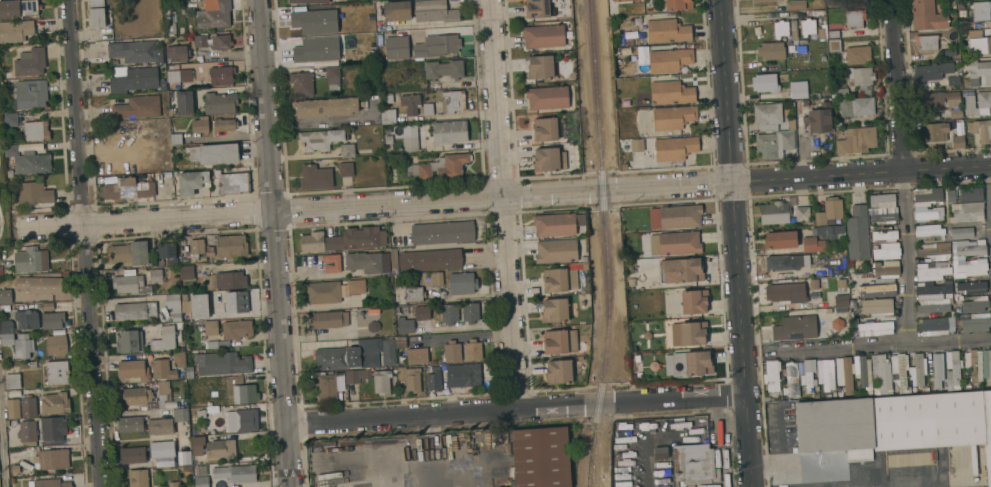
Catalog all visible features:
building: (622, 0)
building: (765, 0)
building: (310, 1)
building: (832, 2)
building: (678, 4)
building: (795, 4)
building: (537, 8)
building: (19, 9)
building: (397, 10)
building: (981, 10)
building: (434, 11)
building: (97, 13)
building: (214, 14)
building: (927, 15)
building: (166, 16)
building: (856, 18)
building: (314, 21)
building: (171, 27)
building: (808, 27)
building: (781, 28)
building: (794, 29)
building: (16, 31)
building: (668, 31)
building: (426, 33)
building: (975, 33)
building: (834, 34)
building: (544, 36)
building: (201, 40)
building: (221, 41)
building: (629, 42)
building: (927, 42)
building: (447, 44)
building: (834, 45)
building: (980, 45)
building: (396, 47)
building: (316, 50)
building: (423, 50)
building: (626, 50)
building: (137, 51)
building: (771, 51)
building: (950, 52)
building: (177, 53)
building: (858, 54)
building: (670, 60)
building: (31, 62)
building: (114, 62)
building: (540, 66)
building: (444, 69)
building: (980, 70)
building: (931, 71)
building: (184, 75)
building: (222, 75)
building: (859, 76)
building: (133, 79)
building: (333, 79)
building: (953, 81)
building: (765, 82)
building: (302, 83)
building: (966, 84)
building: (163, 85)
road: (896, 86)
building: (799, 89)
building: (671, 92)
building: (842, 92)
building: (31, 93)
building: (548, 97)
building: (388, 98)
building: (939, 99)
building: (984, 99)
building: (453, 101)
building: (185, 103)
building: (220, 103)
building: (411, 103)
building: (800, 105)
building: (857, 106)
building: (138, 107)
building: (326, 107)
building: (428, 108)
building: (956, 113)
building: (389, 116)
building: (674, 117)
building: (11, 119)
building: (818, 120)
building: (838, 122)
building: (200, 125)
building: (225, 125)
building: (548, 129)
building: (36, 130)
building: (981, 130)
building: (784, 131)
building: (450, 132)
building: (933, 132)
building: (410, 137)
building: (177, 139)
building: (320, 139)
building: (388, 139)
building: (857, 140)
building: (958, 141)
building: (636, 144)
building: (675, 148)
building: (347, 150)
building: (214, 153)
building: (548, 159)
building: (28, 160)
building: (439, 167)
building: (346, 169)
road: (989, 174)
building: (316, 176)
building: (191, 182)
building: (233, 182)
road: (900, 183)
building: (128, 188)
building: (34, 193)
building: (928, 194)
building: (970, 194)
road: (504, 196)
building: (950, 196)
building: (883, 200)
road: (504, 204)
building: (829, 211)
building: (967, 211)
building: (774, 213)
building: (802, 213)
building: (926, 215)
building: (675, 216)
building: (883, 216)
building: (558, 224)
railway: (607, 230)
building: (929, 230)
building: (443, 232)
building: (828, 232)
building: (961, 232)
building: (857, 233)
building: (885, 234)
building: (342, 240)
building: (780, 240)
building: (675, 242)
road: (86, 243)
road: (275, 243)
road: (739, 243)
building: (813, 244)
building: (197, 246)
building: (231, 246)
building: (210, 247)
building: (969, 247)
building: (887, 250)
building: (556, 251)
building: (936, 251)
building: (143, 254)
building: (626, 256)
building: (394, 257)
building: (31, 260)
building: (430, 260)
building: (333, 262)
building: (368, 262)
building: (786, 262)
building: (851, 267)
building: (969, 267)
building: (887, 268)
building: (1, 270)
building: (682, 270)
building: (932, 271)
building: (187, 272)
building: (158, 275)
building: (226, 280)
building: (559, 280)
building: (631, 281)
building: (948, 282)
building: (462, 283)
building: (131, 284)
building: (41, 285)
building: (356, 286)
building: (879, 287)
building: (972, 287)
building: (814, 288)
building: (413, 289)
building: (931, 290)
building: (323, 292)
building: (780, 292)
building: (6, 296)
building: (841, 300)
building: (694, 301)
building: (236, 302)
building: (975, 304)
building: (200, 305)
building: (934, 305)
building: (877, 306)
building: (48, 307)
building: (174, 307)
building: (555, 310)
building: (828, 310)
building: (135, 311)
building: (373, 311)
building: (422, 313)
building: (460, 313)
building: (27, 319)
building: (329, 319)
building: (53, 320)
building: (976, 323)
building: (838, 324)
building: (405, 325)
building: (7, 326)
building: (875, 327)
building: (933, 327)
building: (211, 328)
building: (800, 328)
building: (237, 329)
building: (861, 333)
building: (689, 334)
road: (468, 337)
road: (903, 338)
building: (8, 339)
building: (167, 339)
road: (946, 340)
building: (130, 341)
building: (560, 341)
building: (401, 342)
building: (218, 344)
building: (57, 345)
building: (24, 346)
building: (473, 350)
building: (452, 351)
building: (358, 355)
building: (418, 356)
building: (638, 358)
building: (179, 359)
building: (223, 363)
building: (33, 364)
building: (689, 364)
building: (986, 364)
building: (974, 365)
building: (134, 369)
building: (163, 370)
building: (909, 370)
building: (953, 371)
building: (560, 372)
building: (937, 372)
building: (58, 373)
building: (854, 373)
building: (190, 374)
building: (826, 374)
building: (882, 374)
building: (464, 375)
building: (357, 376)
building: (639, 376)
building: (808, 376)
building: (434, 378)
building: (772, 378)
building: (411, 379)
building: (792, 380)
building: (13, 381)
building: (382, 382)
building: (330, 385)
building: (164, 388)
building: (214, 393)
building: (245, 394)
building: (143, 397)
building: (56, 403)
building: (29, 407)
building: (13, 408)
road: (517, 410)
building: (202, 414)
building: (181, 415)
building: (242, 420)
building: (132, 424)
building: (895, 424)
building: (161, 426)
building: (54, 430)
building: (28, 432)
building: (198, 445)
building: (221, 448)
building: (163, 449)
building: (661, 453)
building: (134, 455)
building: (185, 457)
building: (542, 457)
road: (1, 459)
building: (52, 459)
building: (695, 462)
building: (187, 468)
building: (201, 470)
building: (236, 473)
railway: (589, 473)
railway: (591, 473)
building: (139, 478)
building: (202, 481)
building: (51, 483)
building: (175, 484)

